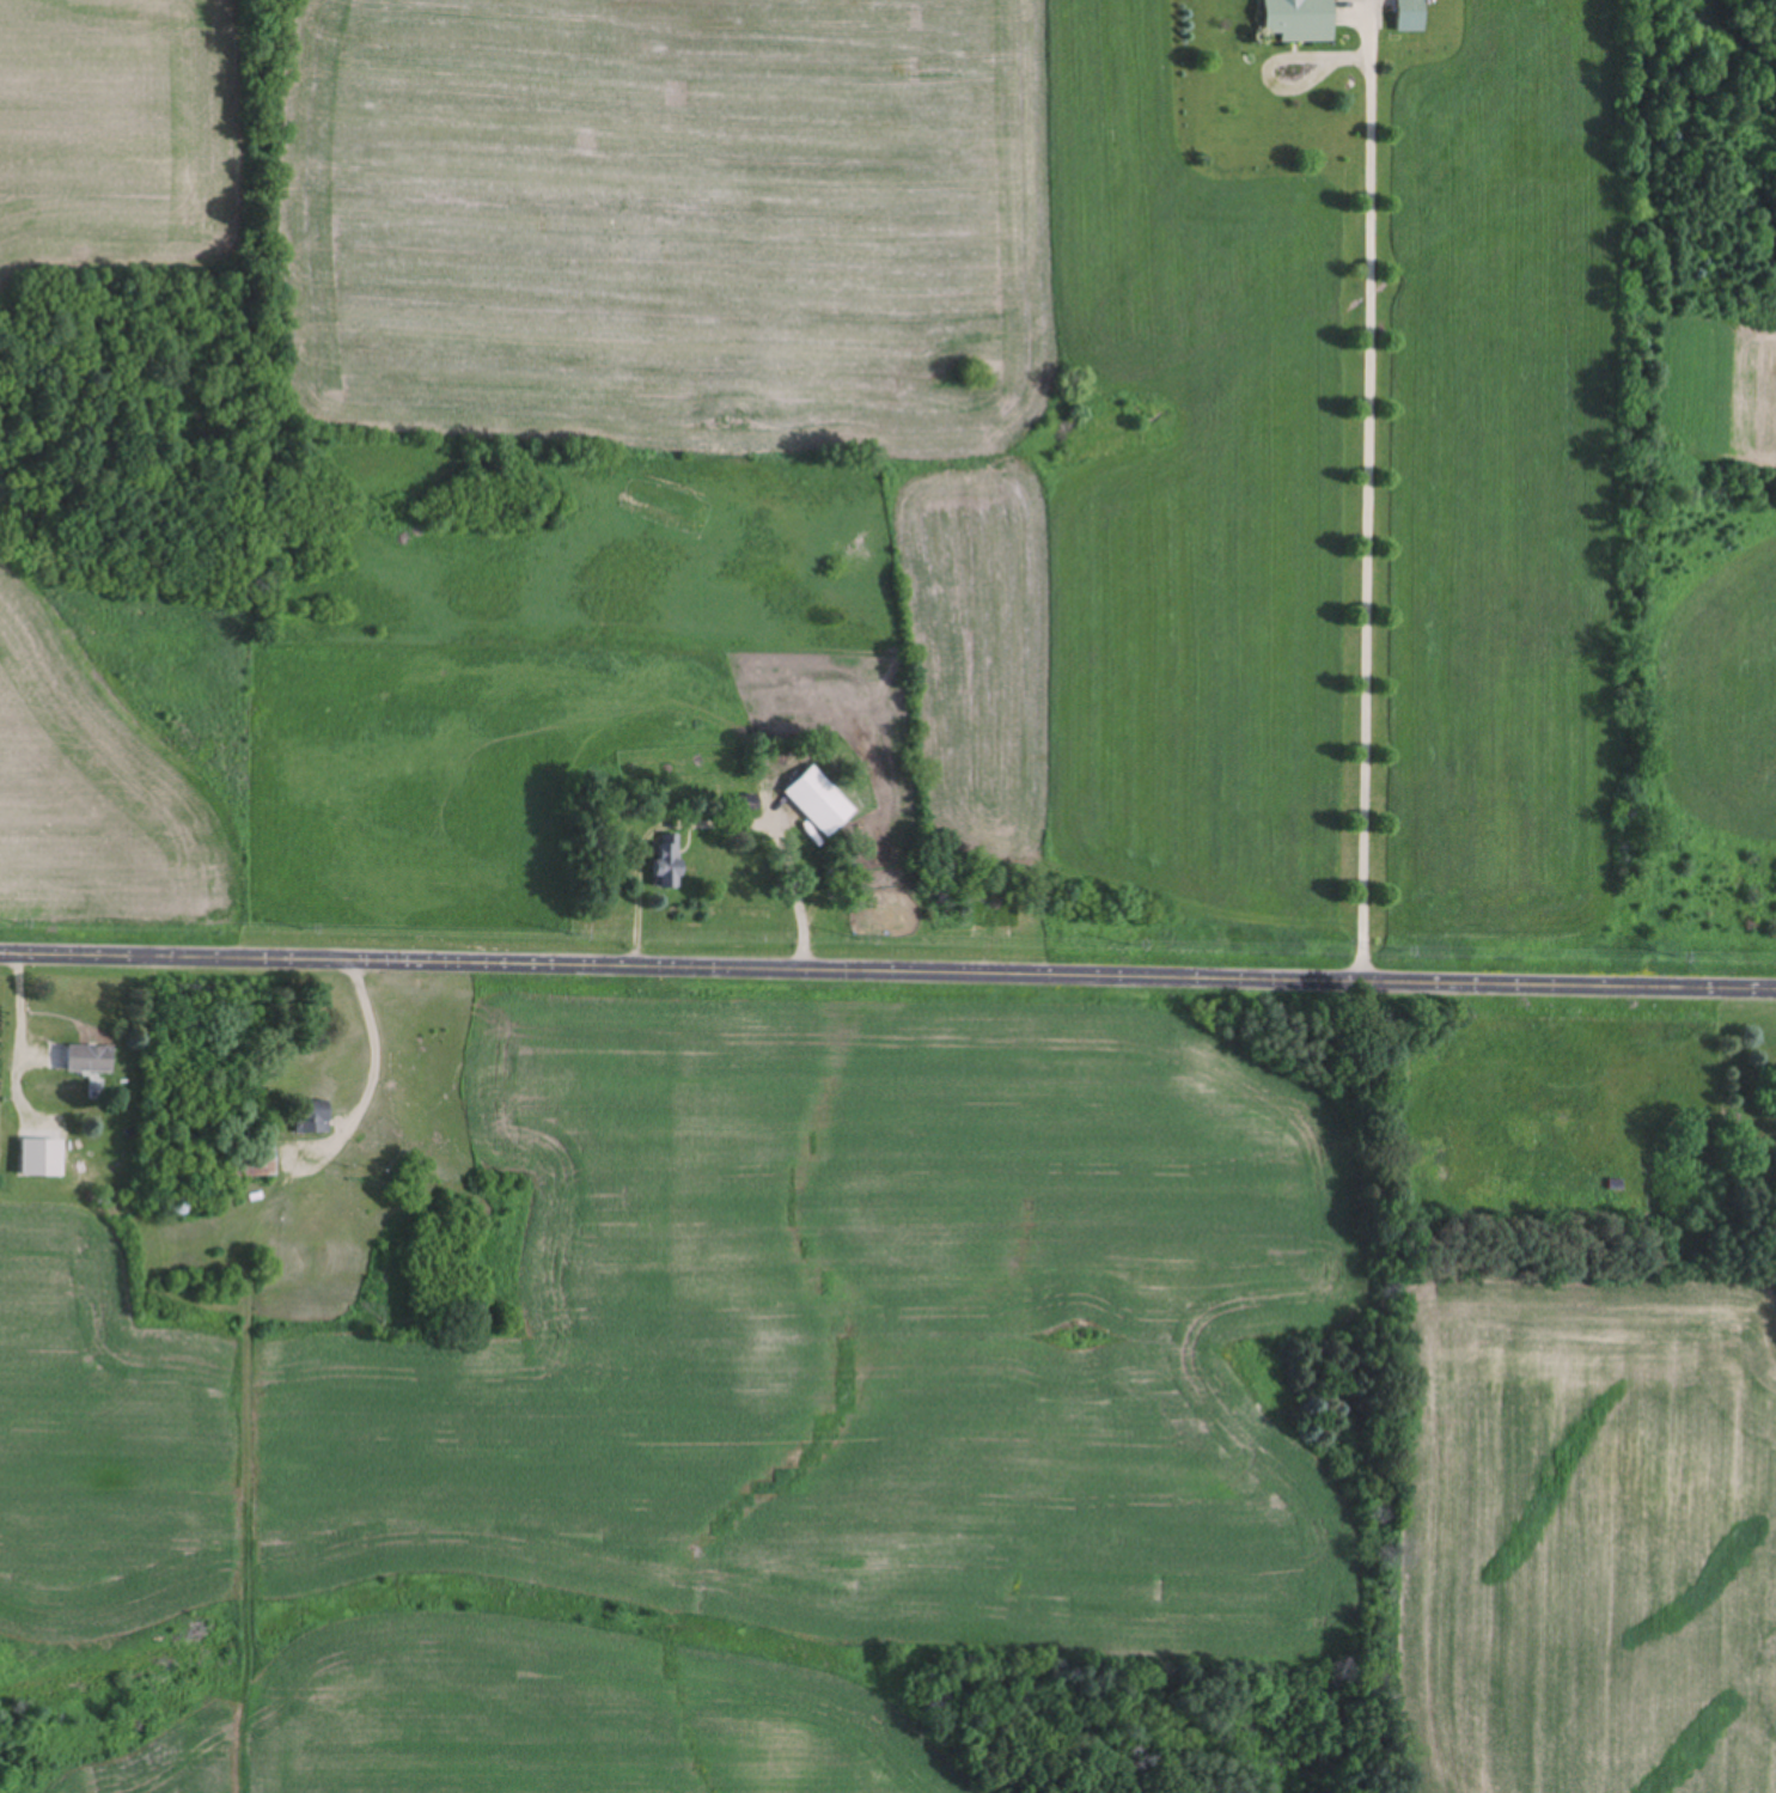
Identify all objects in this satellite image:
building: (1412, 16)
building: (1301, 20)
building: (822, 803)
building: (670, 860)
road: (887, 978)
building: (90, 1059)
building: (313, 1118)

